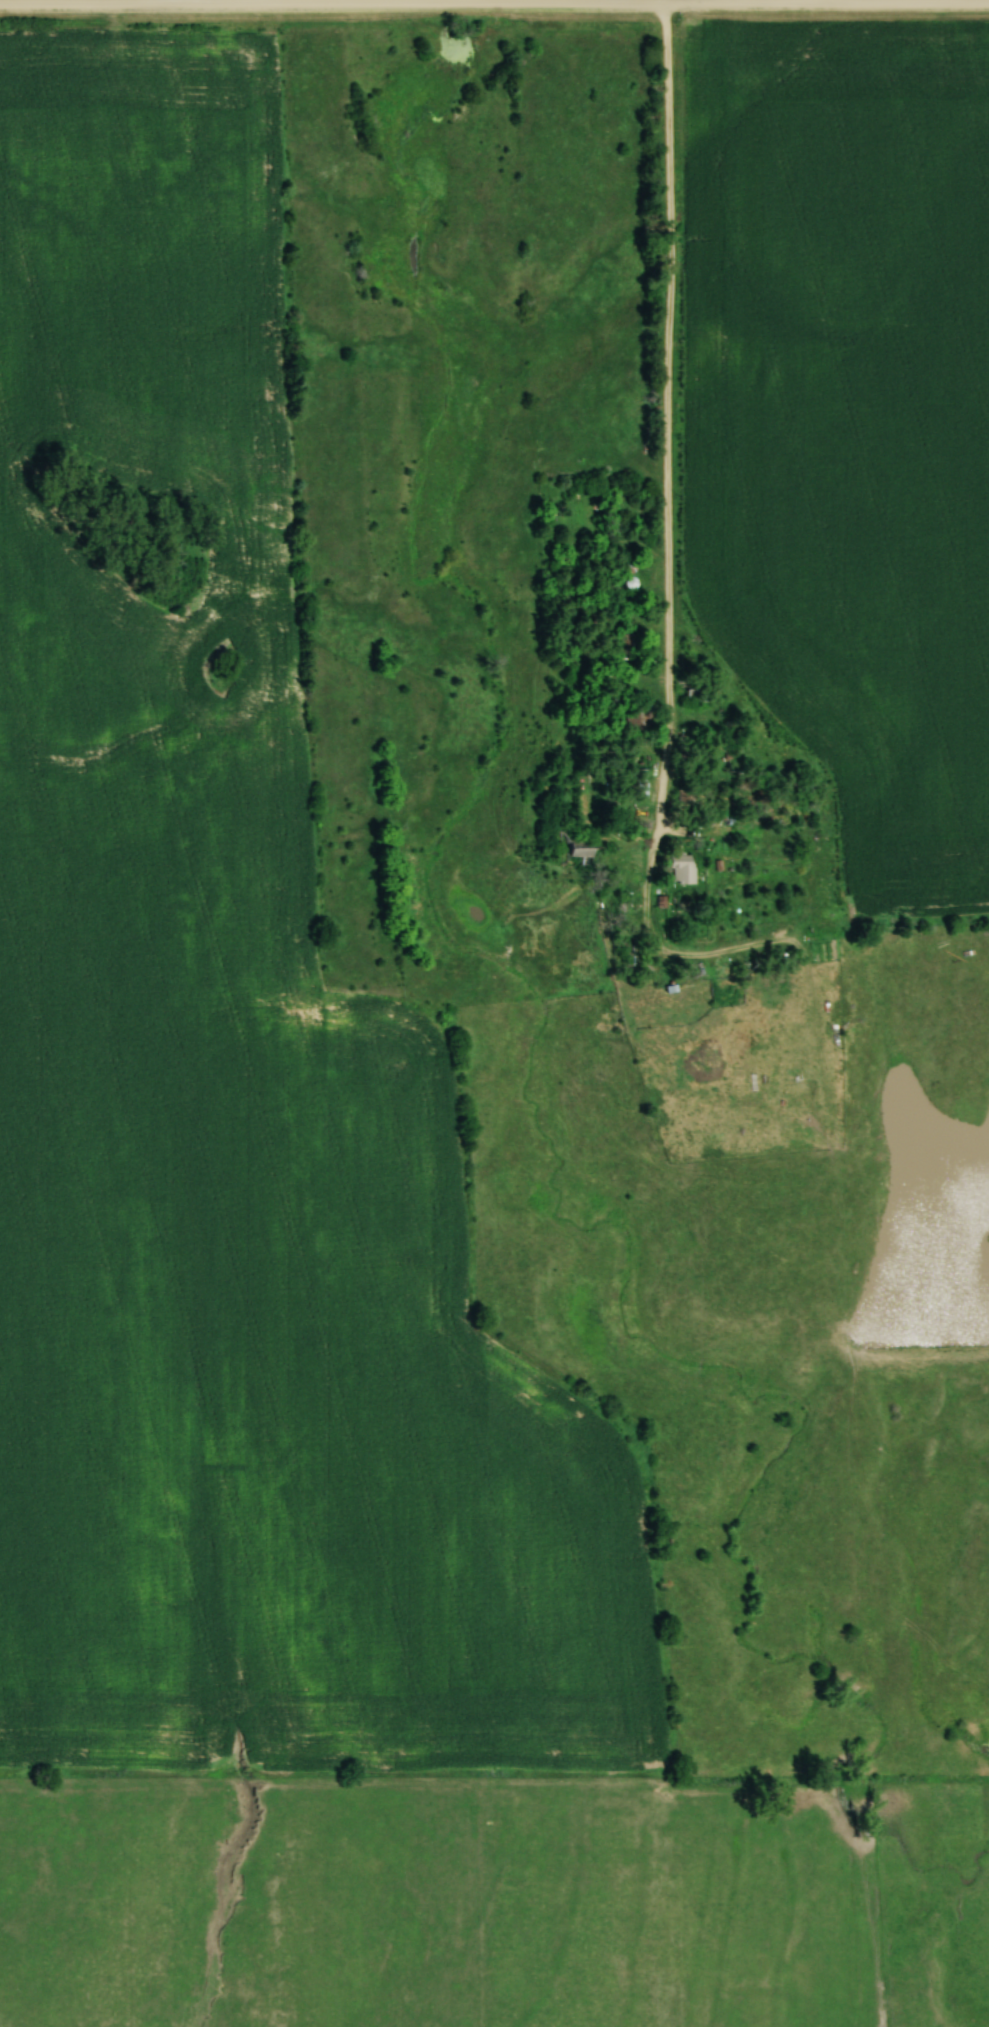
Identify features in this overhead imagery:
road: (494, 3)
road: (663, 420)
building: (699, 695)
building: (584, 847)
building: (685, 868)

